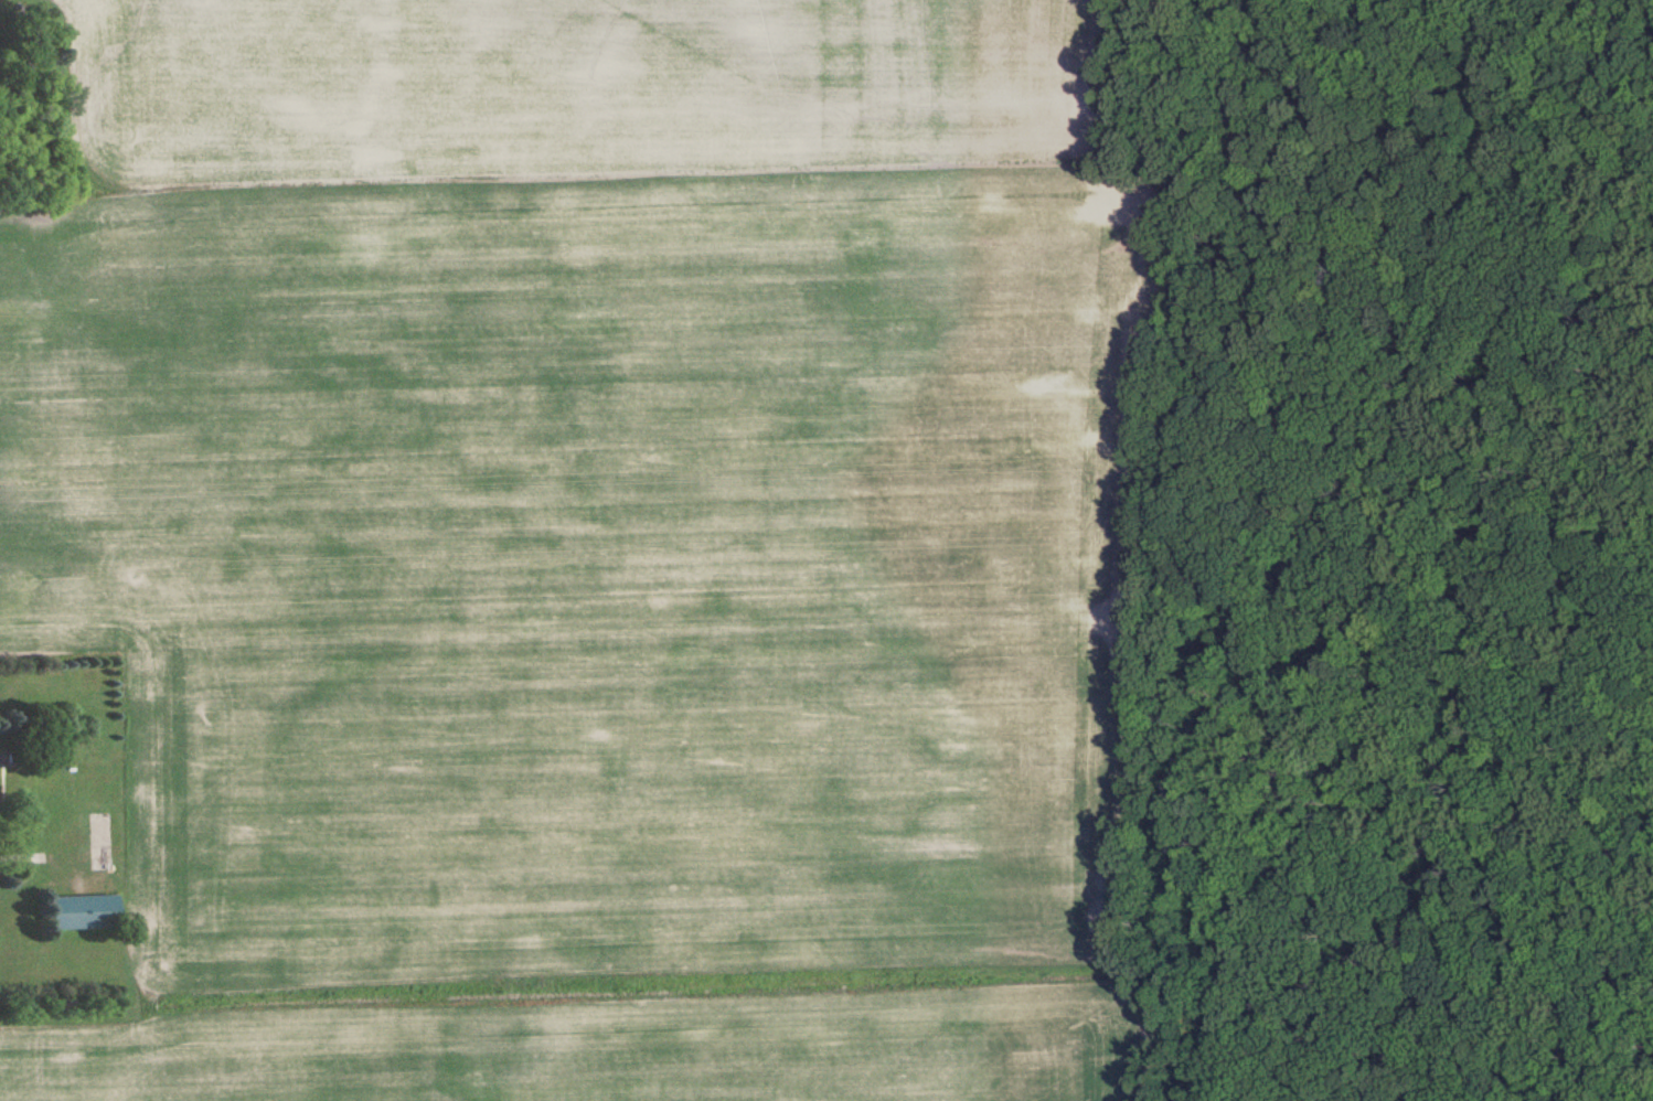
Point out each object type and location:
building: (86, 912)

